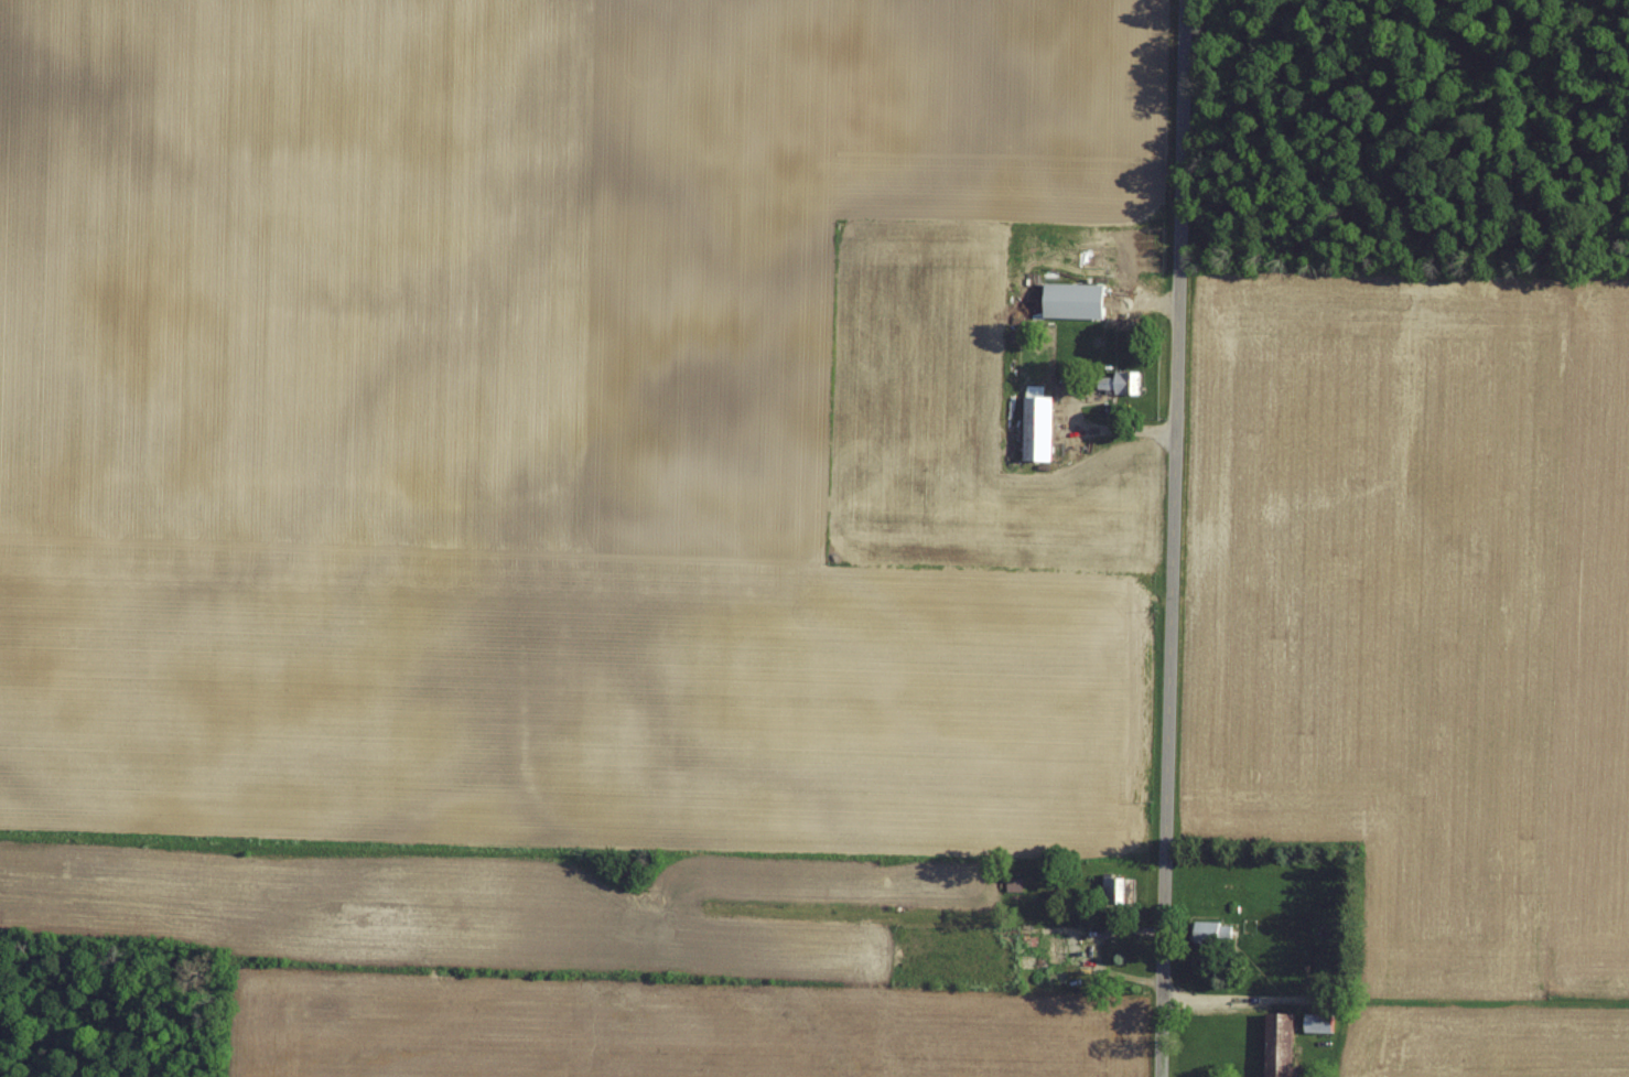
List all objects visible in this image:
road: (1169, 538)
road: (1222, 998)

